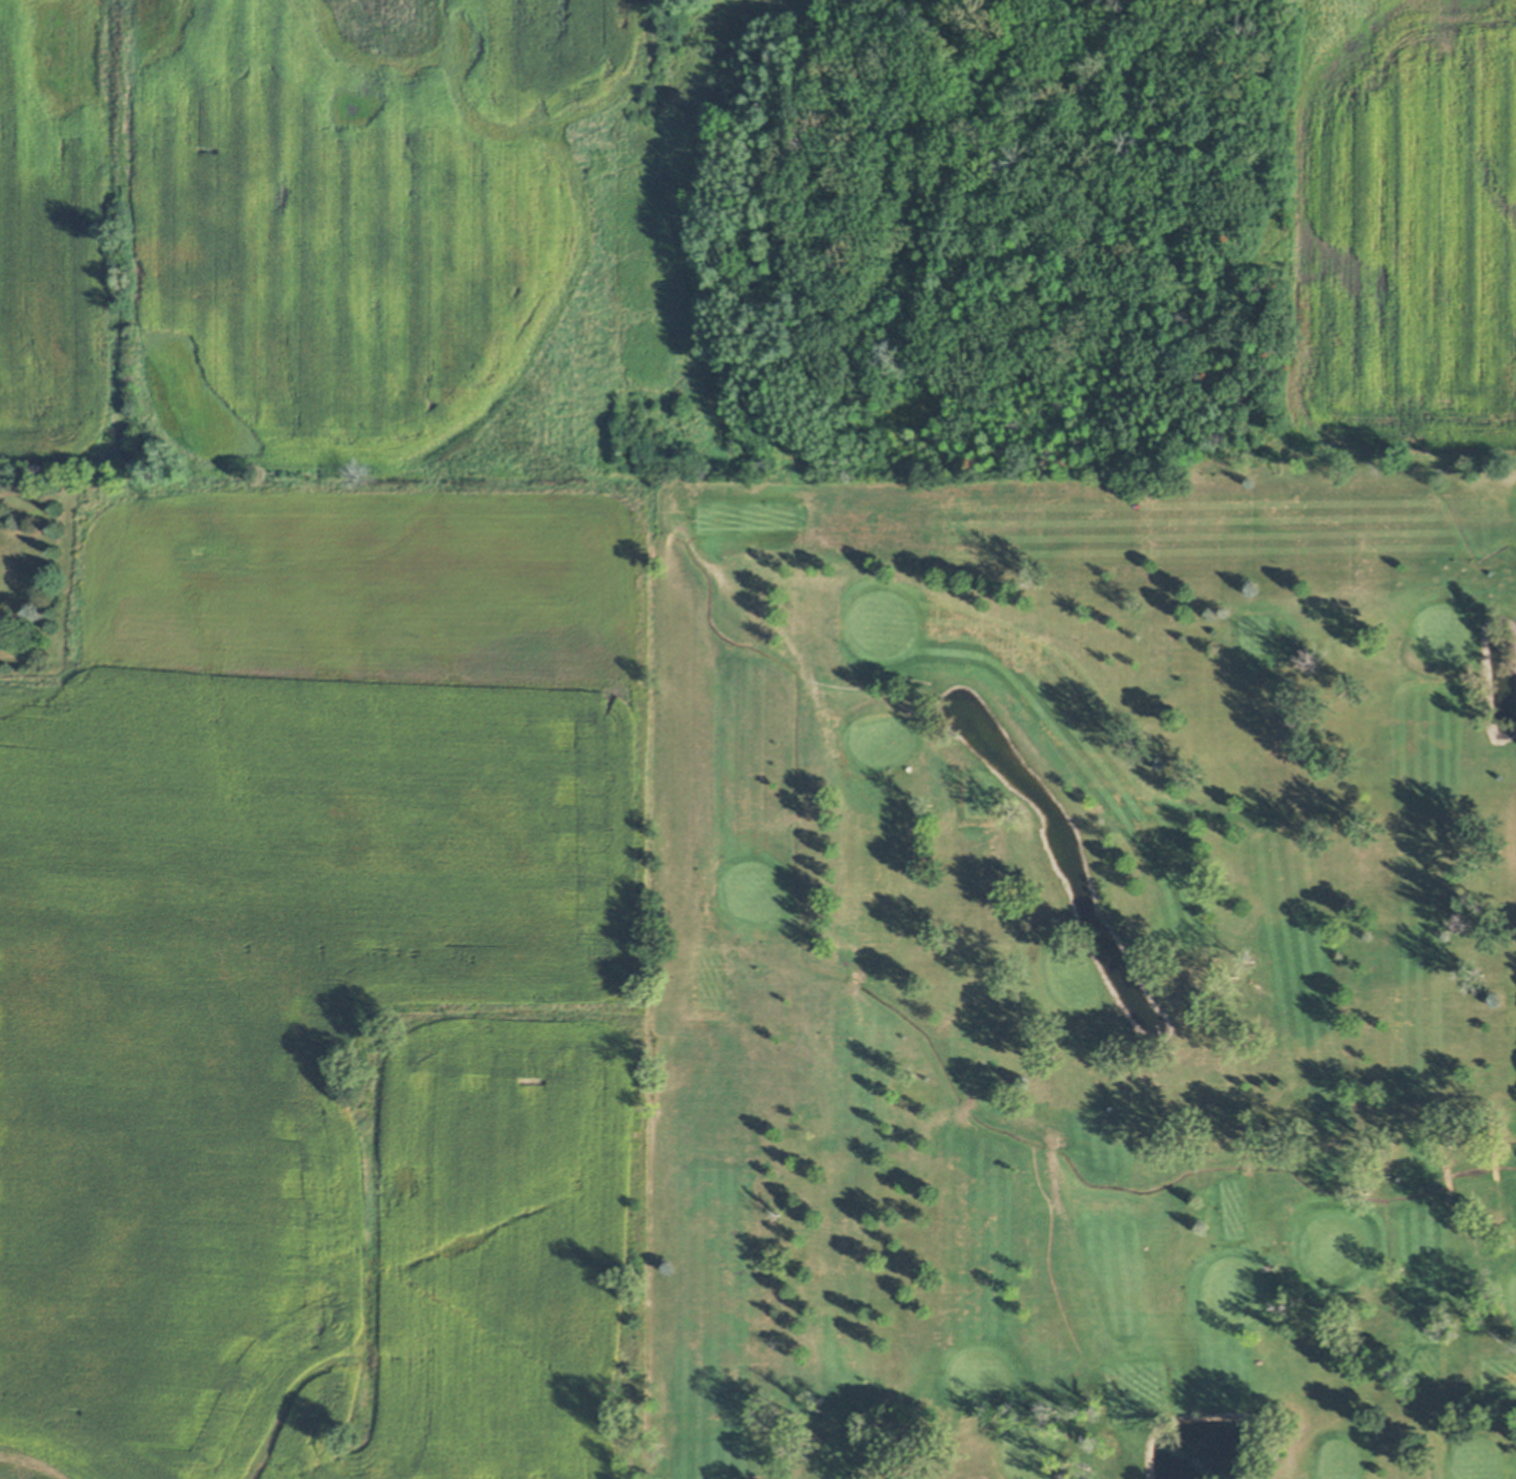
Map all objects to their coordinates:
building: (765, 272)
building: (1414, 467)
building: (668, 534)
building: (795, 815)
park: (1088, 970)
building: (855, 980)
building: (965, 1106)
building: (1051, 1147)
building: (1244, 1166)

